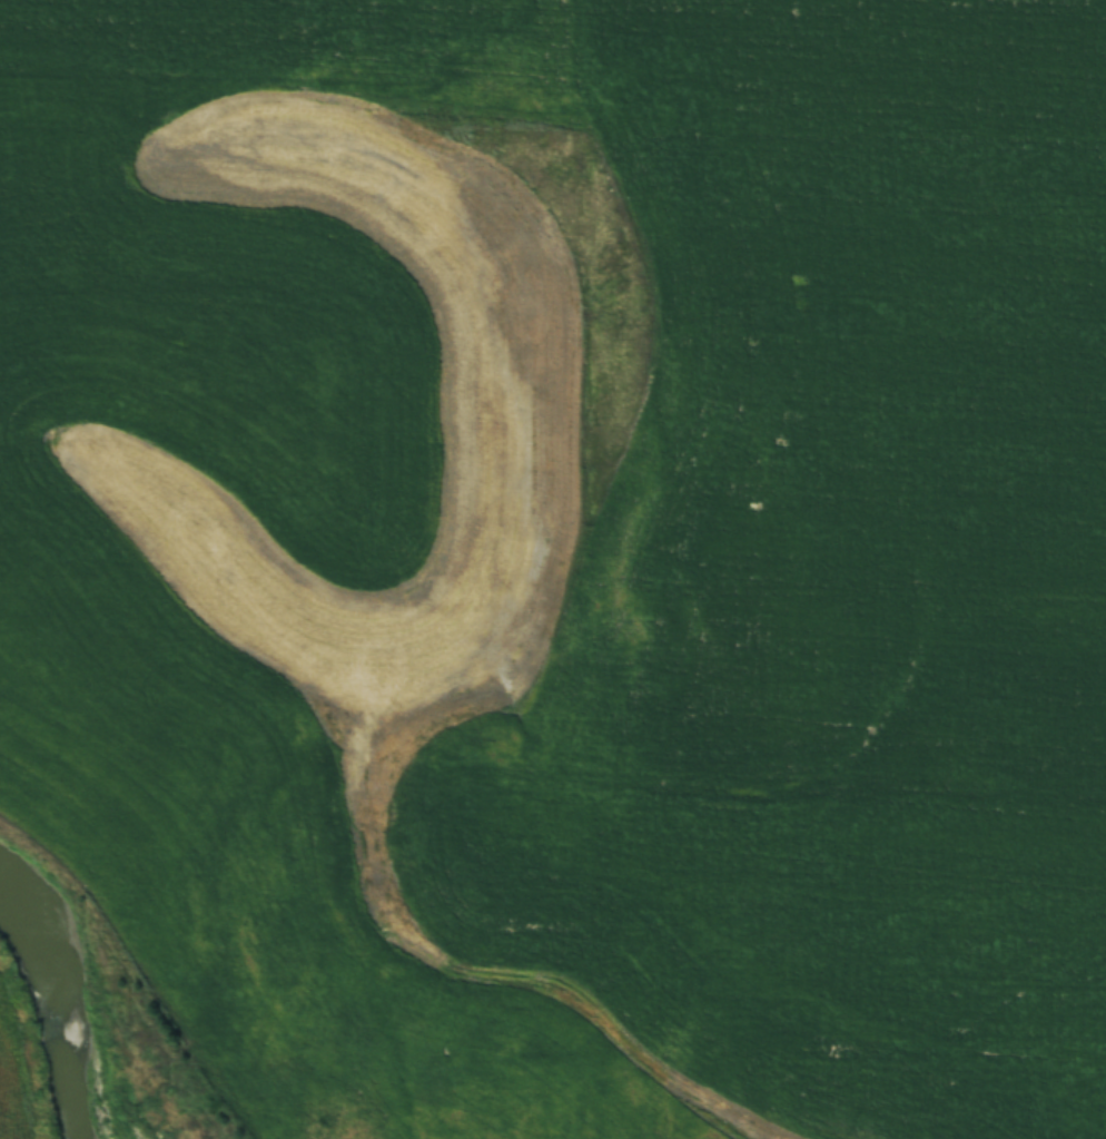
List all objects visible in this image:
river: (53, 1014)

